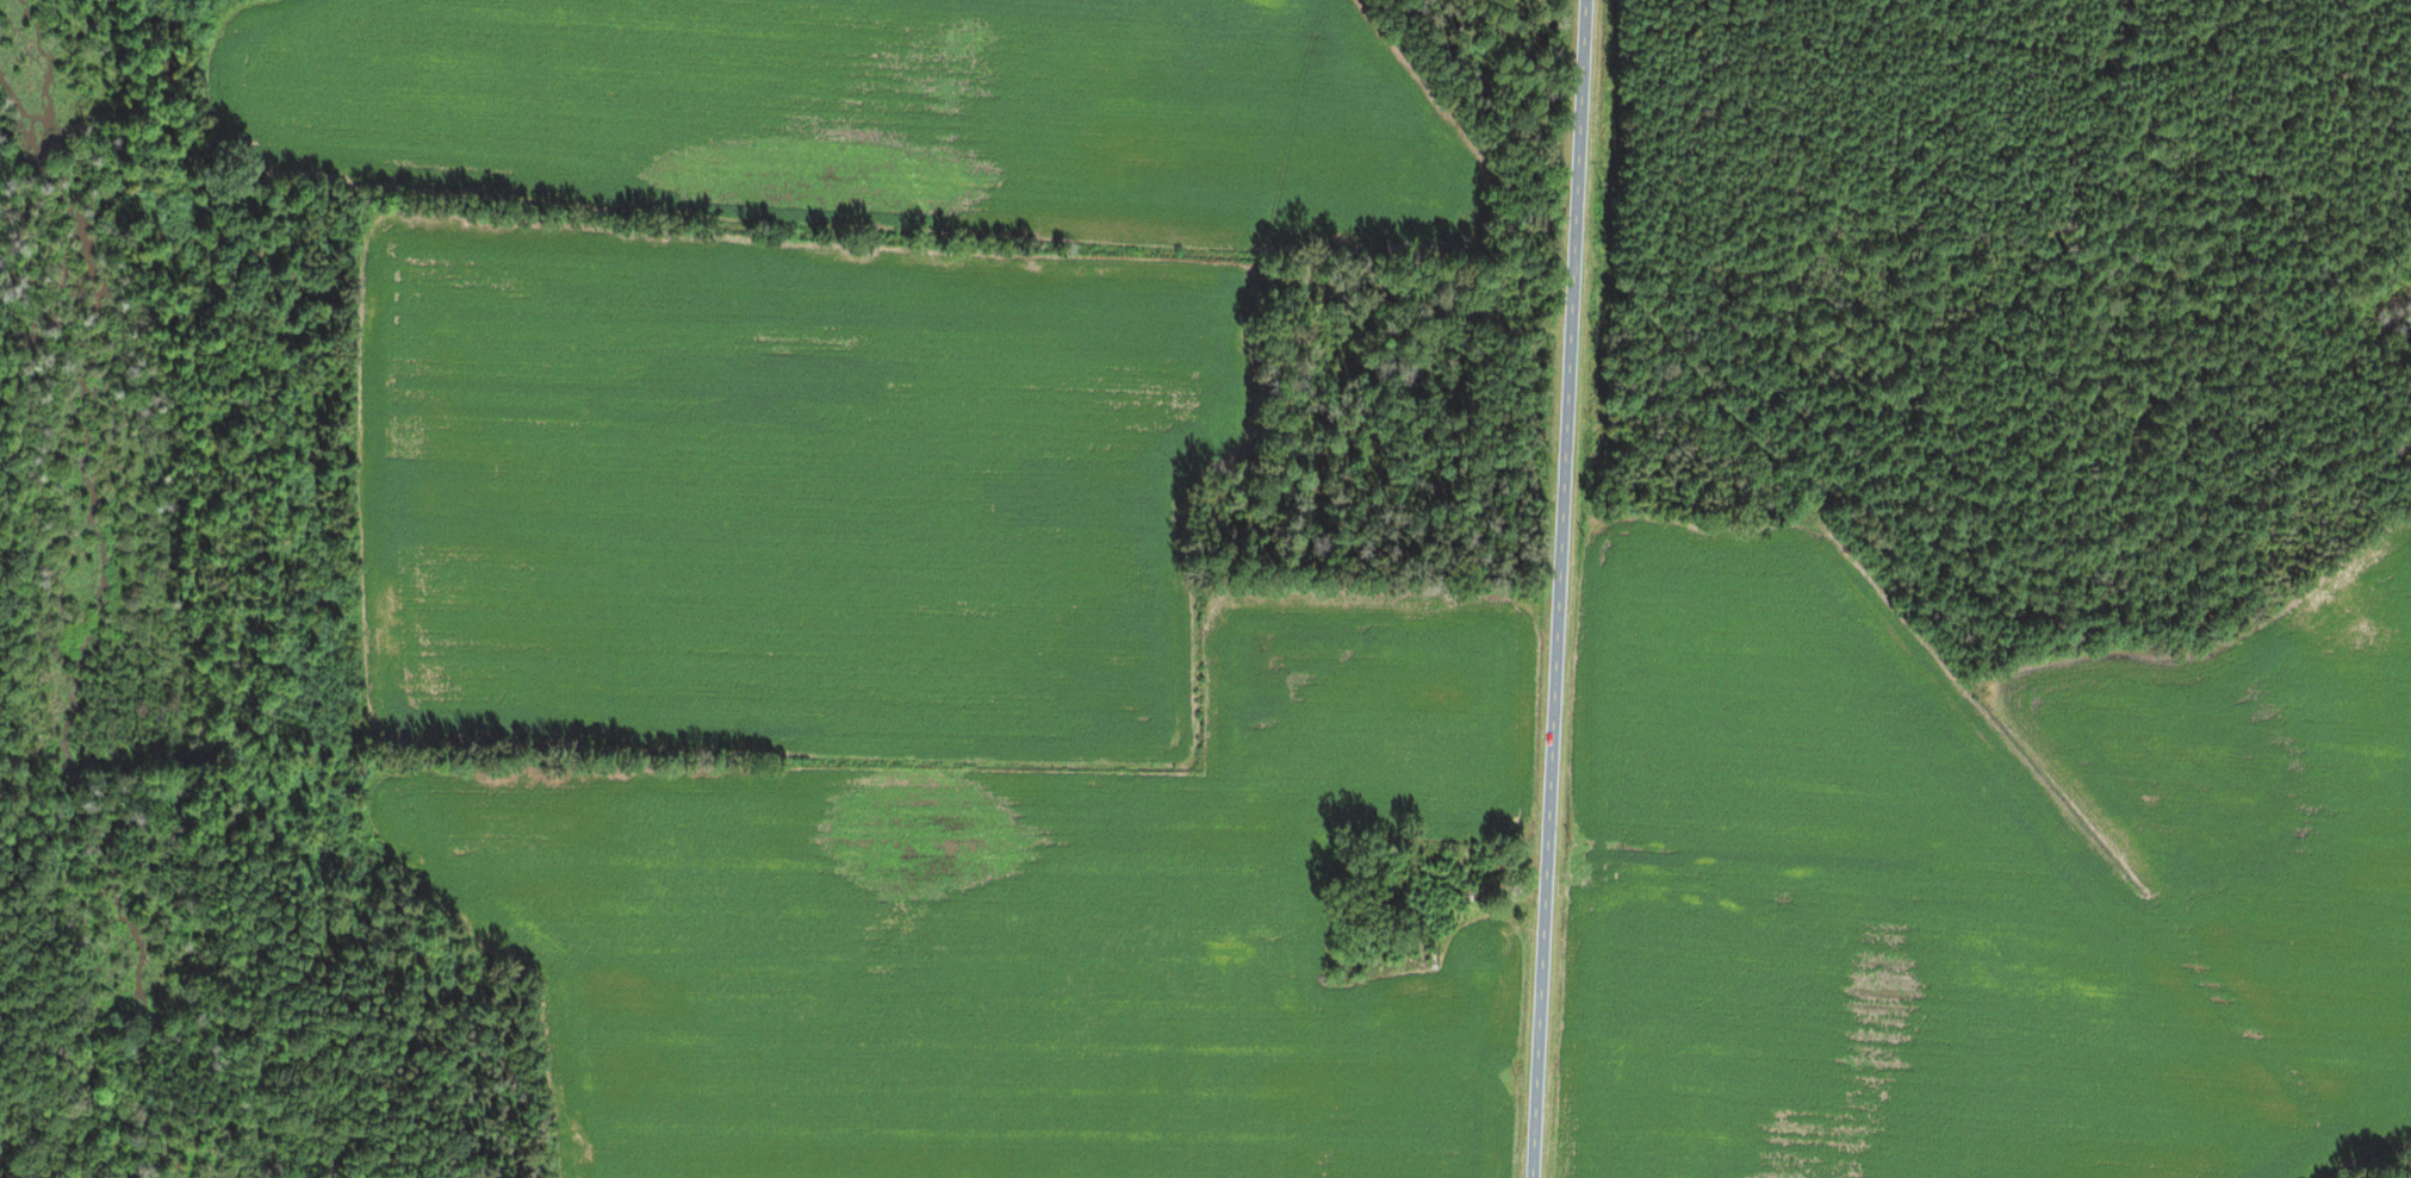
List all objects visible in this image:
road: (1317, 6)
road: (1558, 588)
building: (1429, 873)
road: (1956, 900)
building: (1337, 961)

